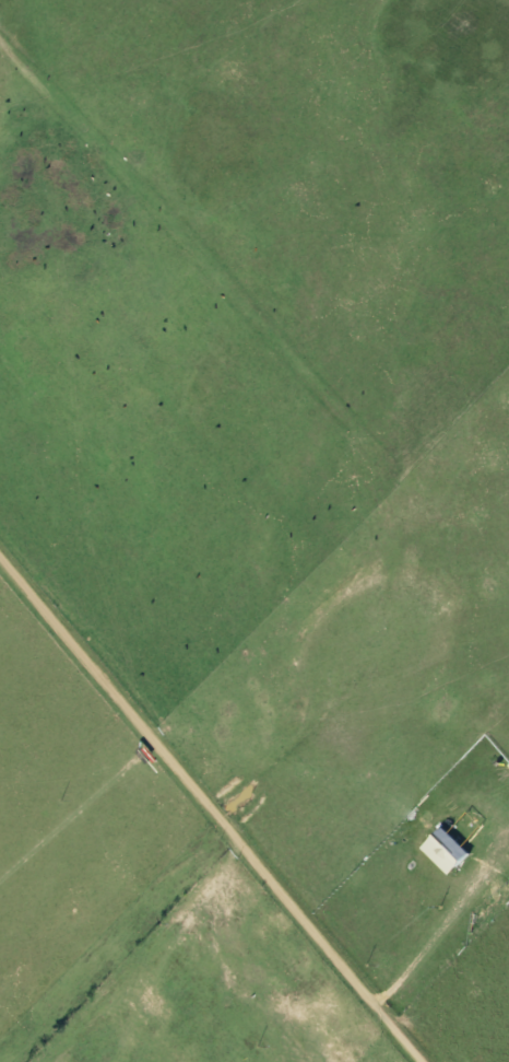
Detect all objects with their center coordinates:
road: (208, 815)
building: (451, 848)

